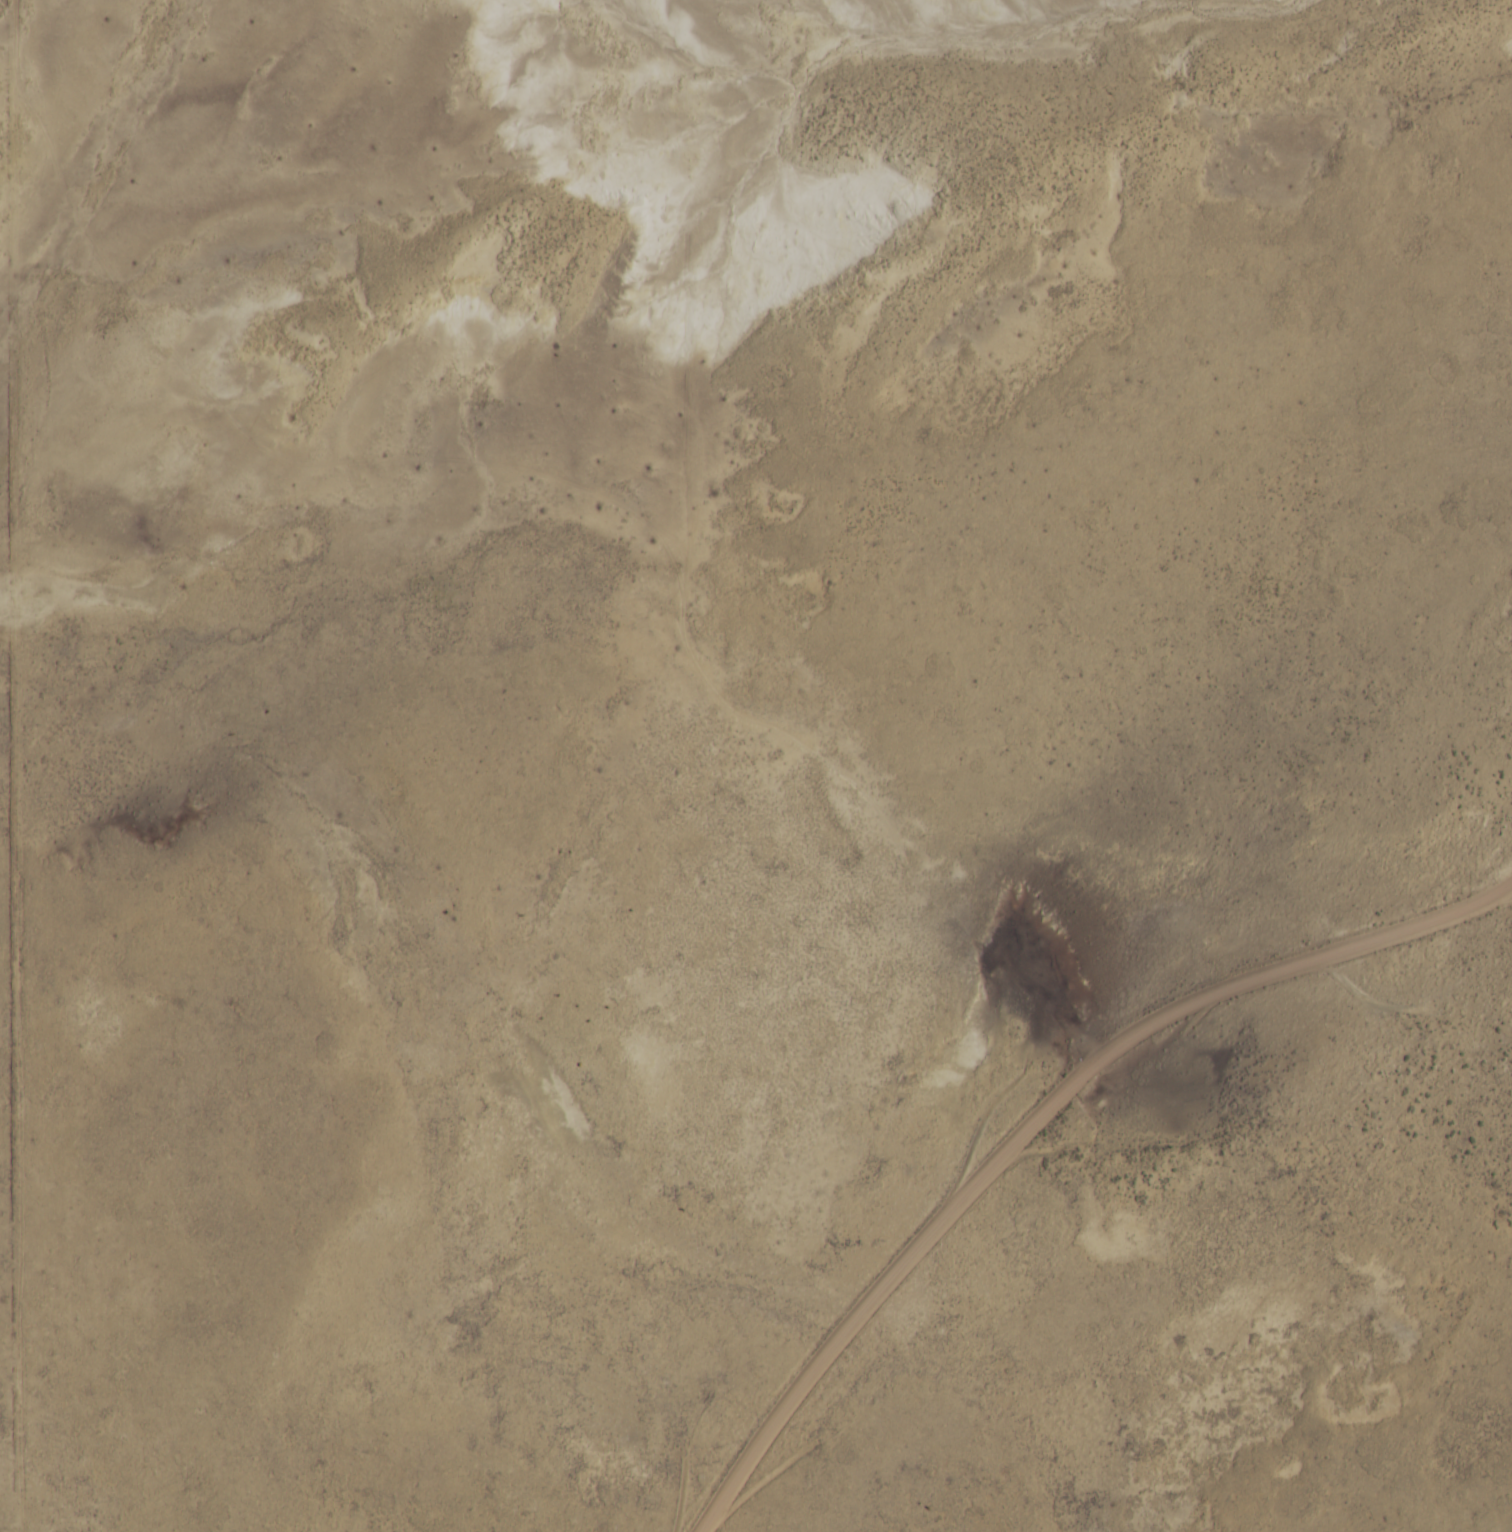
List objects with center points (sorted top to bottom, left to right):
road: (1033, 1116)

